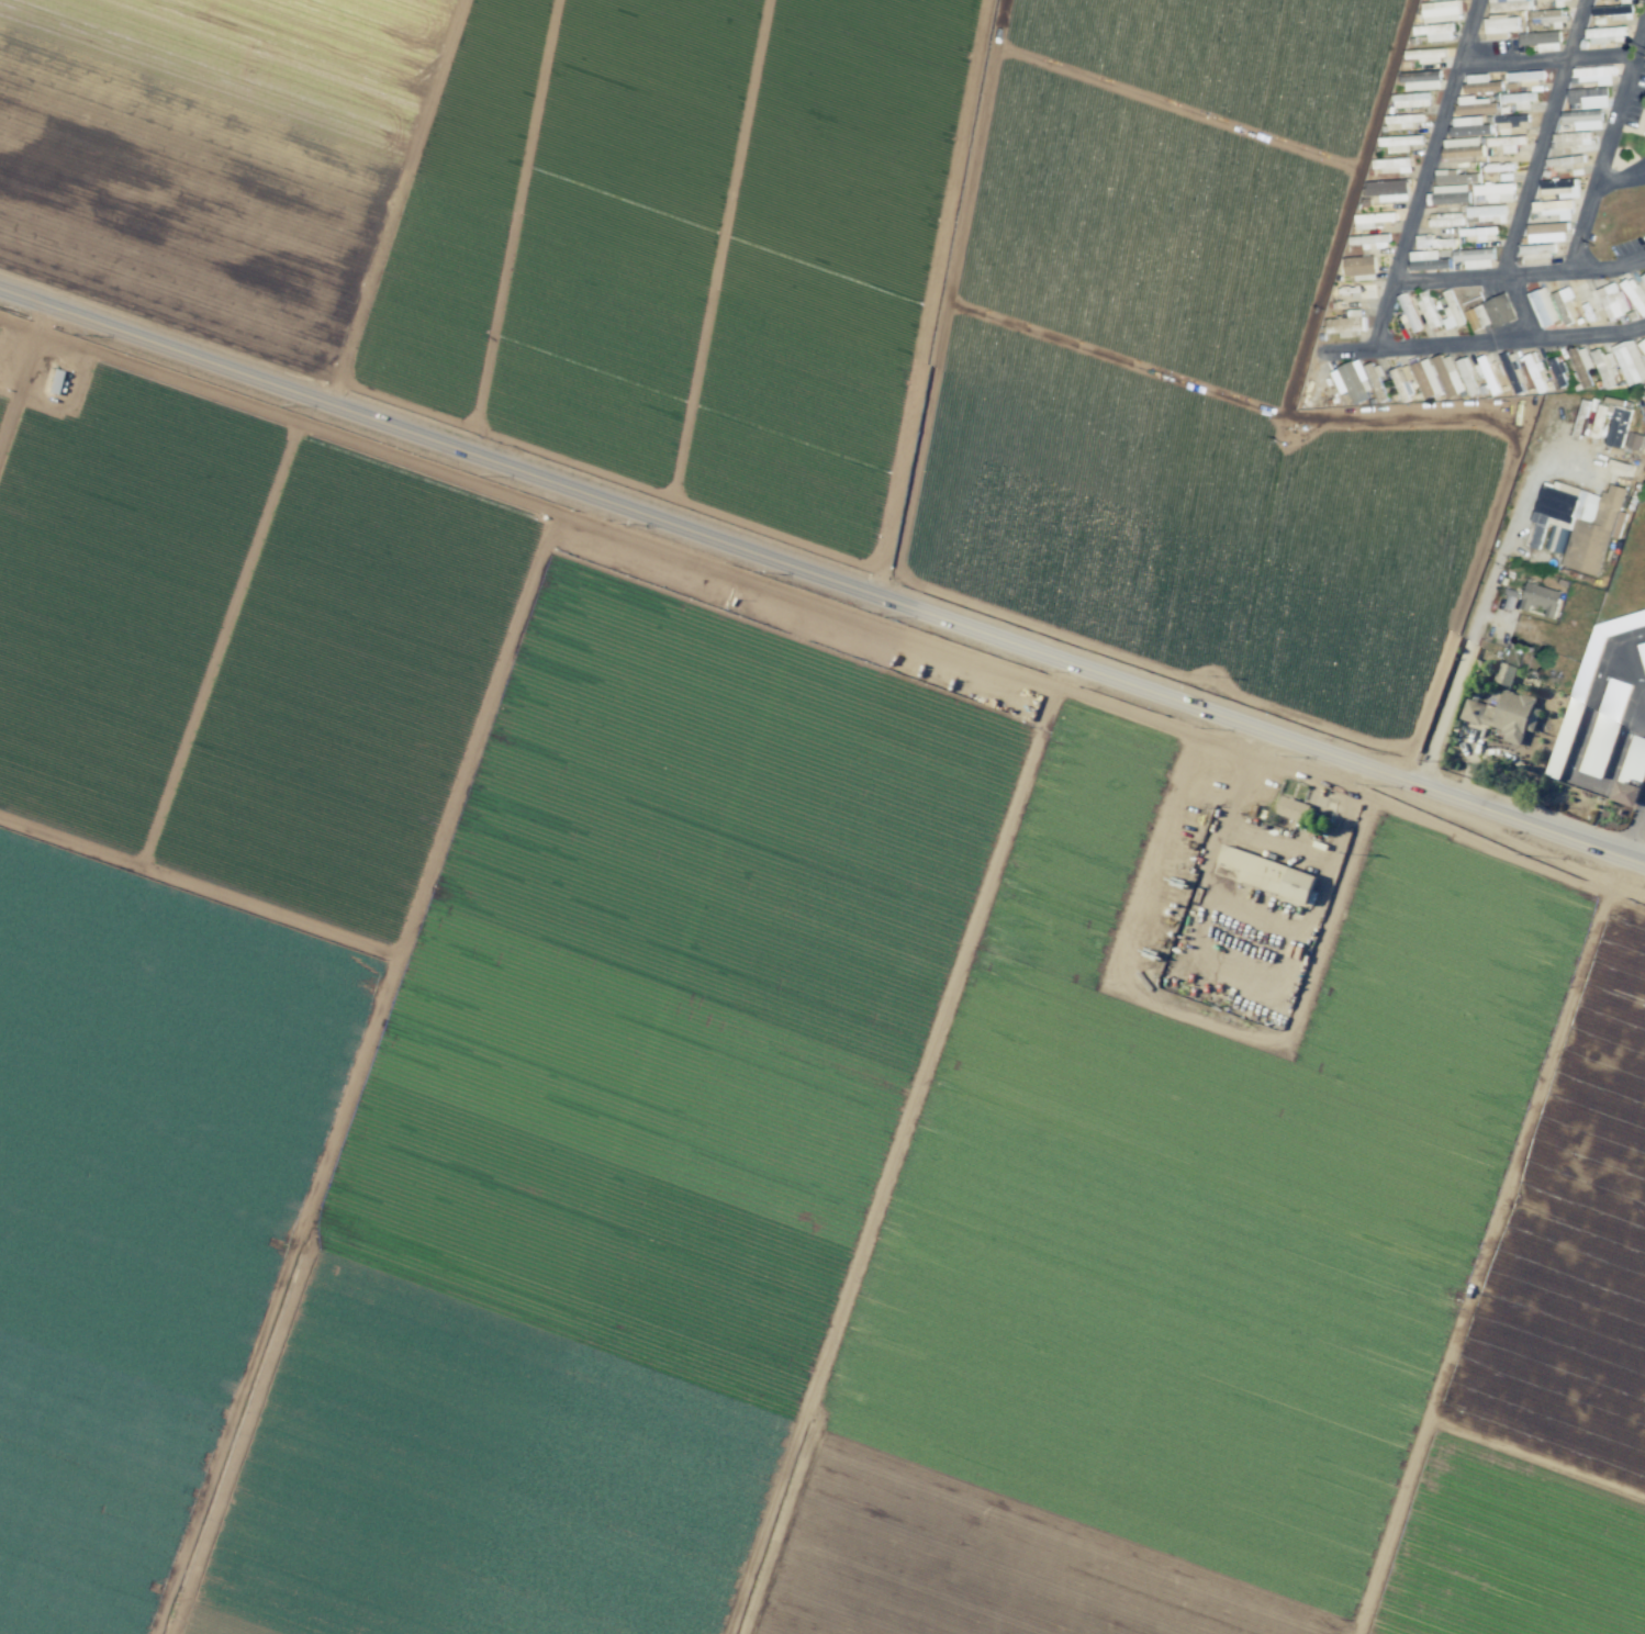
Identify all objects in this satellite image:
building: (1559, 3)
building: (1509, 4)
building: (1442, 11)
building: (1611, 11)
building: (1547, 18)
building: (1499, 25)
building: (1436, 32)
building: (1605, 35)
building: (1541, 41)
building: (1426, 55)
road: (1549, 57)
building: (1594, 75)
building: (1526, 78)
building: (1421, 80)
building: (1481, 83)
building: (1588, 98)
building: (1411, 100)
building: (1519, 100)
building: (1475, 105)
building: (1584, 120)
building: (1402, 121)
building: (1510, 123)
building: (1469, 126)
road: (1543, 138)
building: (1573, 139)
building: (1399, 143)
building: (1504, 143)
building: (1462, 148)
road: (1608, 155)
building: (1392, 165)
building: (1498, 168)
building: (1454, 177)
building: (1560, 188)
building: (1388, 190)
building: (1493, 192)
building: (1450, 194)
building: (1554, 209)
building: (1487, 213)
building: (1373, 220)
building: (1445, 220)
building: (1547, 232)
building: (1369, 240)
building: (1434, 243)
building: (1537, 251)
building: (1475, 258)
building: (1428, 261)
building: (1359, 266)
road: (1519, 276)
building: (1643, 277)
building: (1635, 294)
road: (1387, 298)
building: (1565, 305)
building: (1543, 306)
building: (1428, 310)
building: (1499, 310)
building: (1481, 315)
building: (1452, 316)
building: (1347, 324)
building: (1642, 346)
building: (1630, 362)
building: (1581, 365)
building: (1604, 367)
road: (21, 368)
building: (1535, 371)
building: (1558, 371)
building: (1513, 372)
building: (1448, 374)
building: (1467, 374)
building: (1488, 374)
building: (1425, 379)
building: (1402, 380)
building: (1352, 381)
building: (1618, 427)
building: (1634, 440)
building: (1619, 468)
road: (824, 578)
building: (1541, 598)
road: (825, 607)
road: (1477, 622)
building: (1642, 651)
building: (1503, 674)
building: (1579, 691)
building: (1503, 715)
building: (1604, 727)
building: (1631, 772)
building: (1289, 808)
crop: (765, 850)
building: (1267, 874)
road: (1235, 963)
road: (352, 1072)
road: (885, 1160)
road: (1485, 1265)
road: (1540, 1454)

